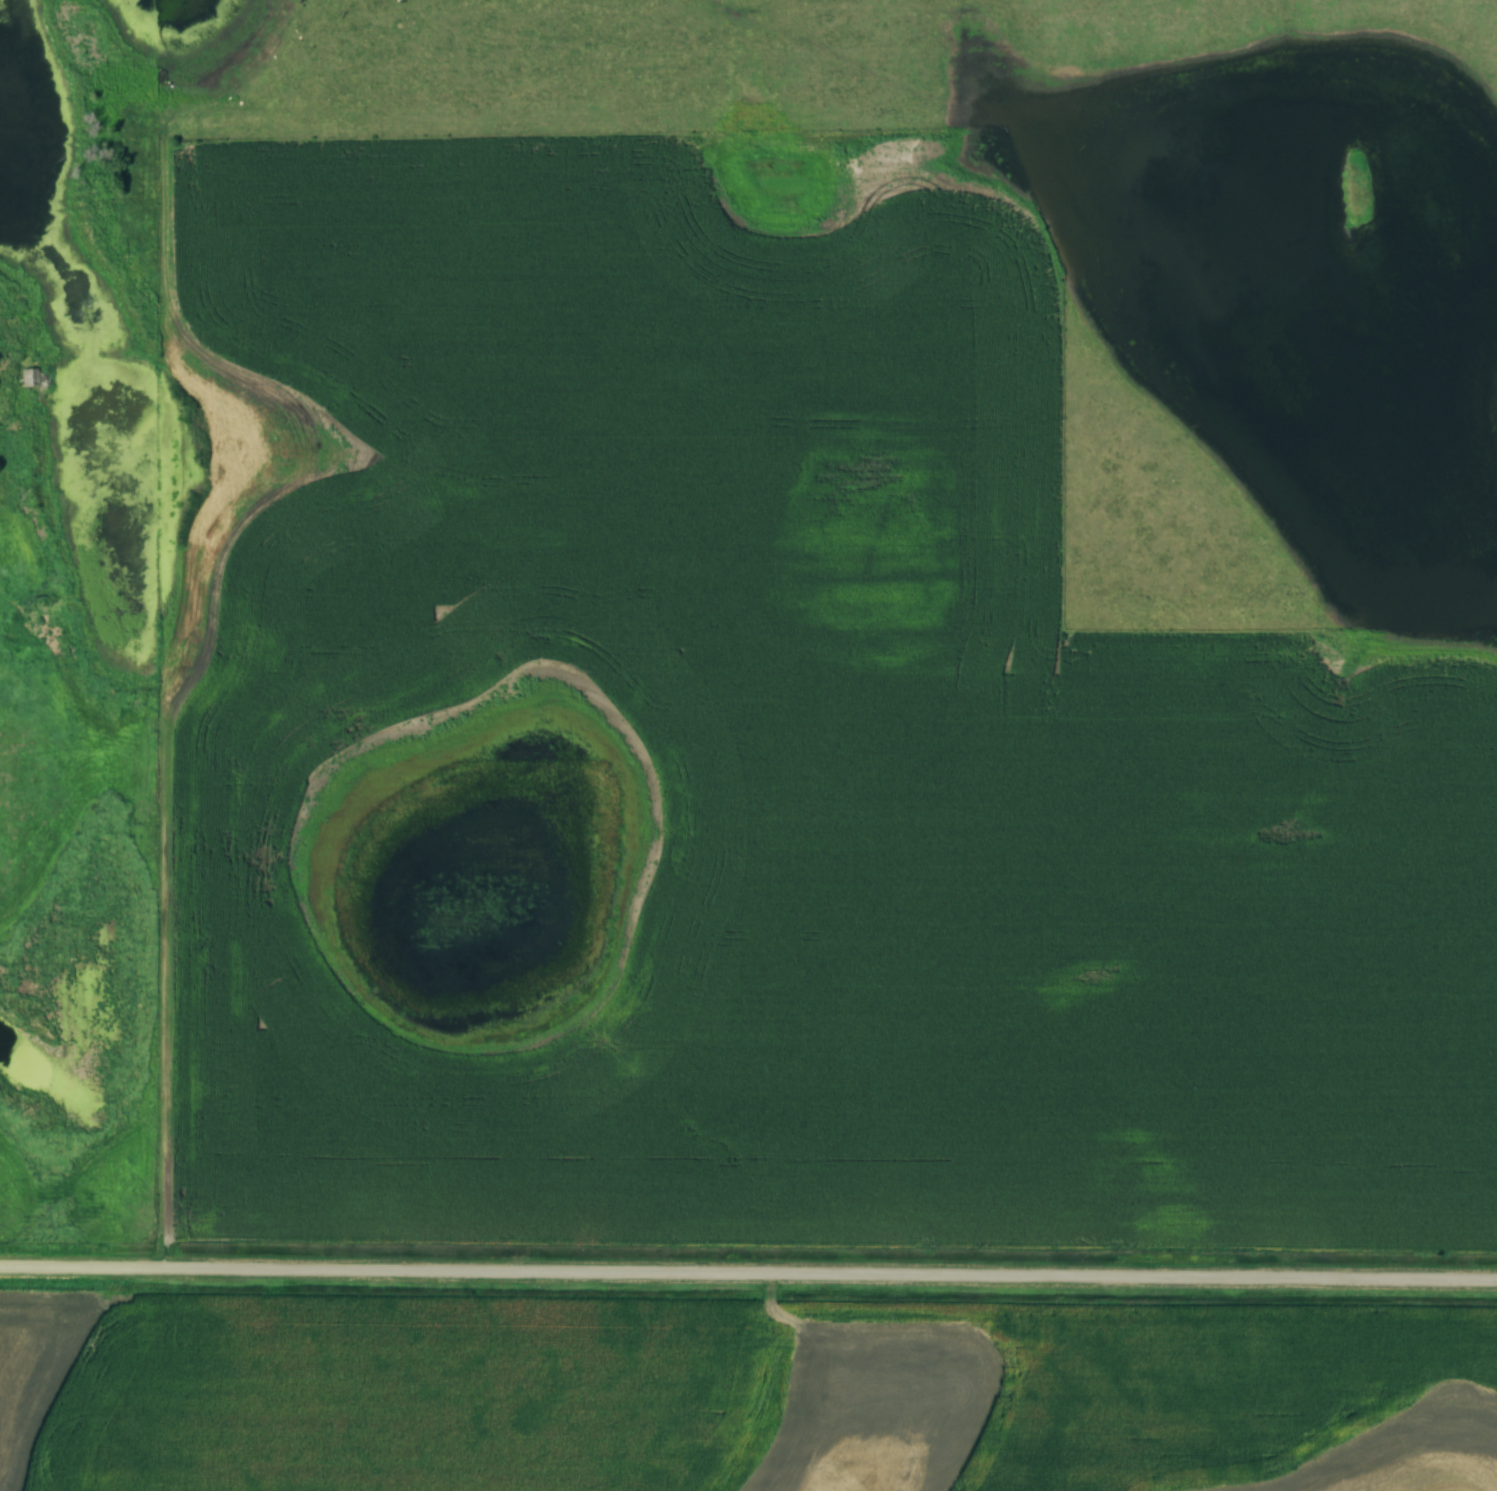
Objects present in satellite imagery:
building: (33, 376)
crop: (749, 749)
road: (748, 1271)

